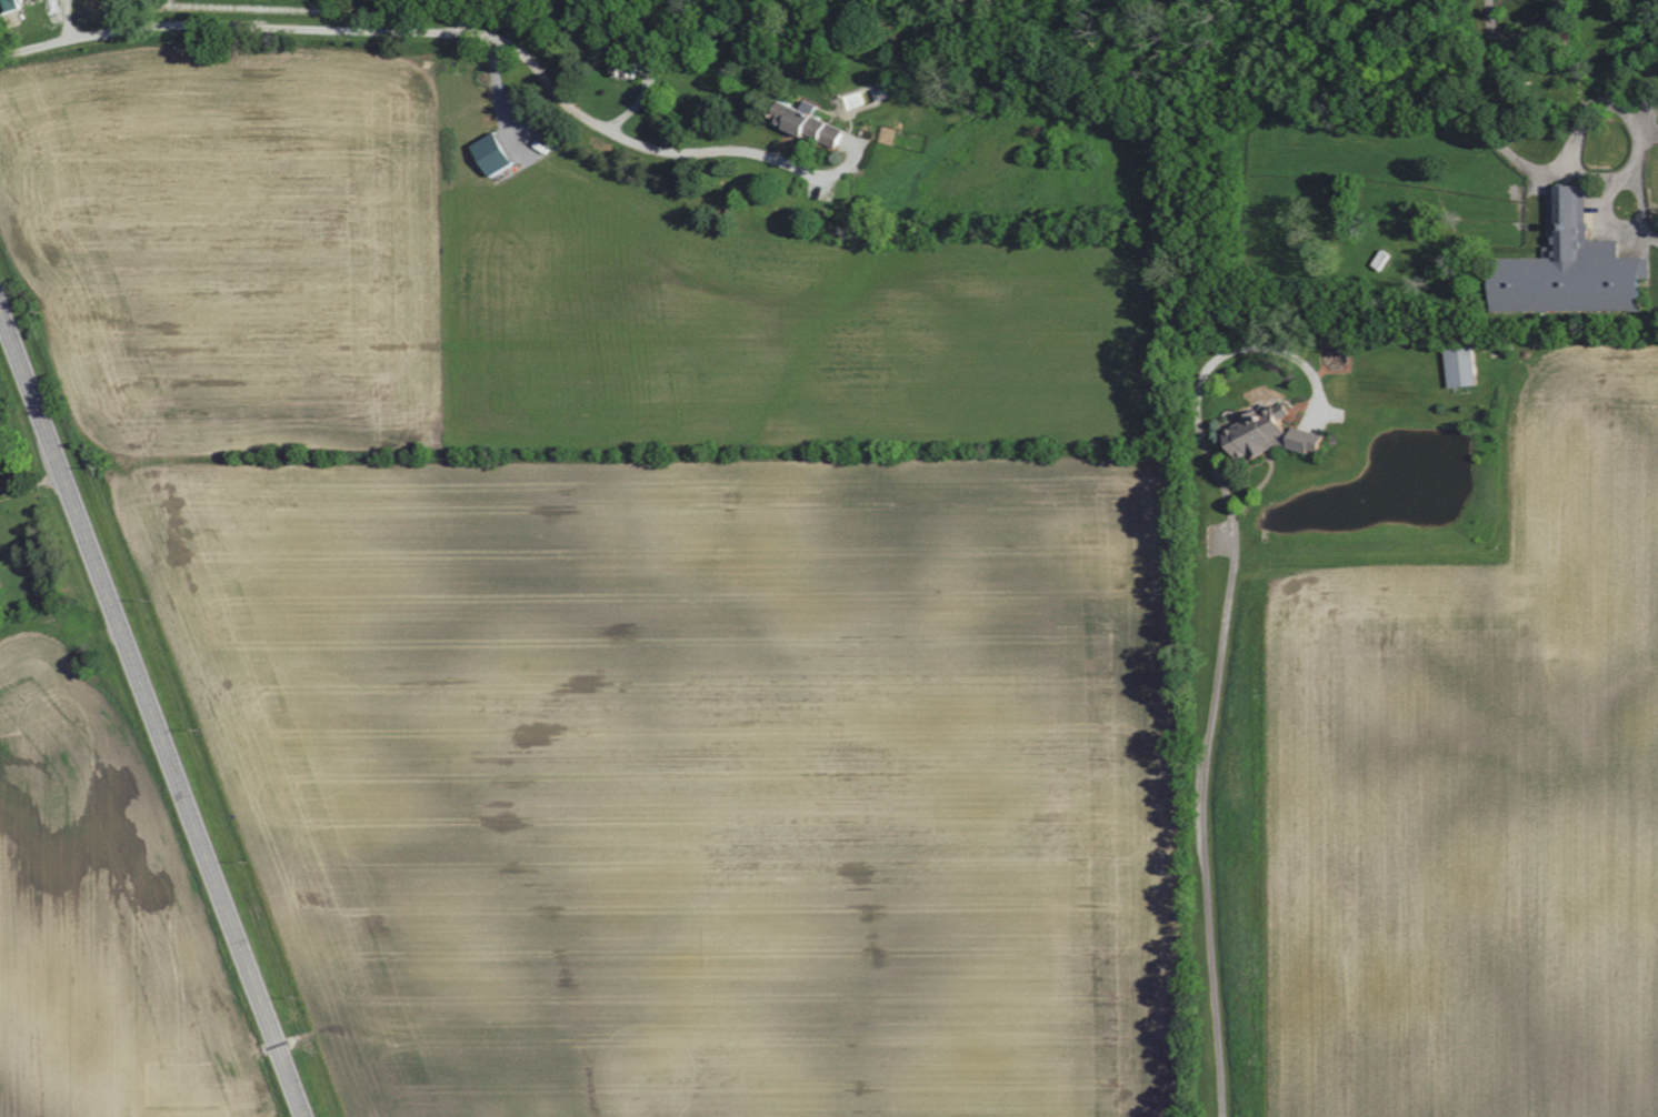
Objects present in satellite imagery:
road: (1489, 17)
road: (457, 27)
road: (1536, 31)
building: (628, 69)
building: (812, 125)
building: (496, 154)
road: (1591, 175)
building: (1575, 266)
building: (1464, 366)
building: (1275, 435)
building: (0, 469)
road: (1221, 656)
road: (152, 714)

